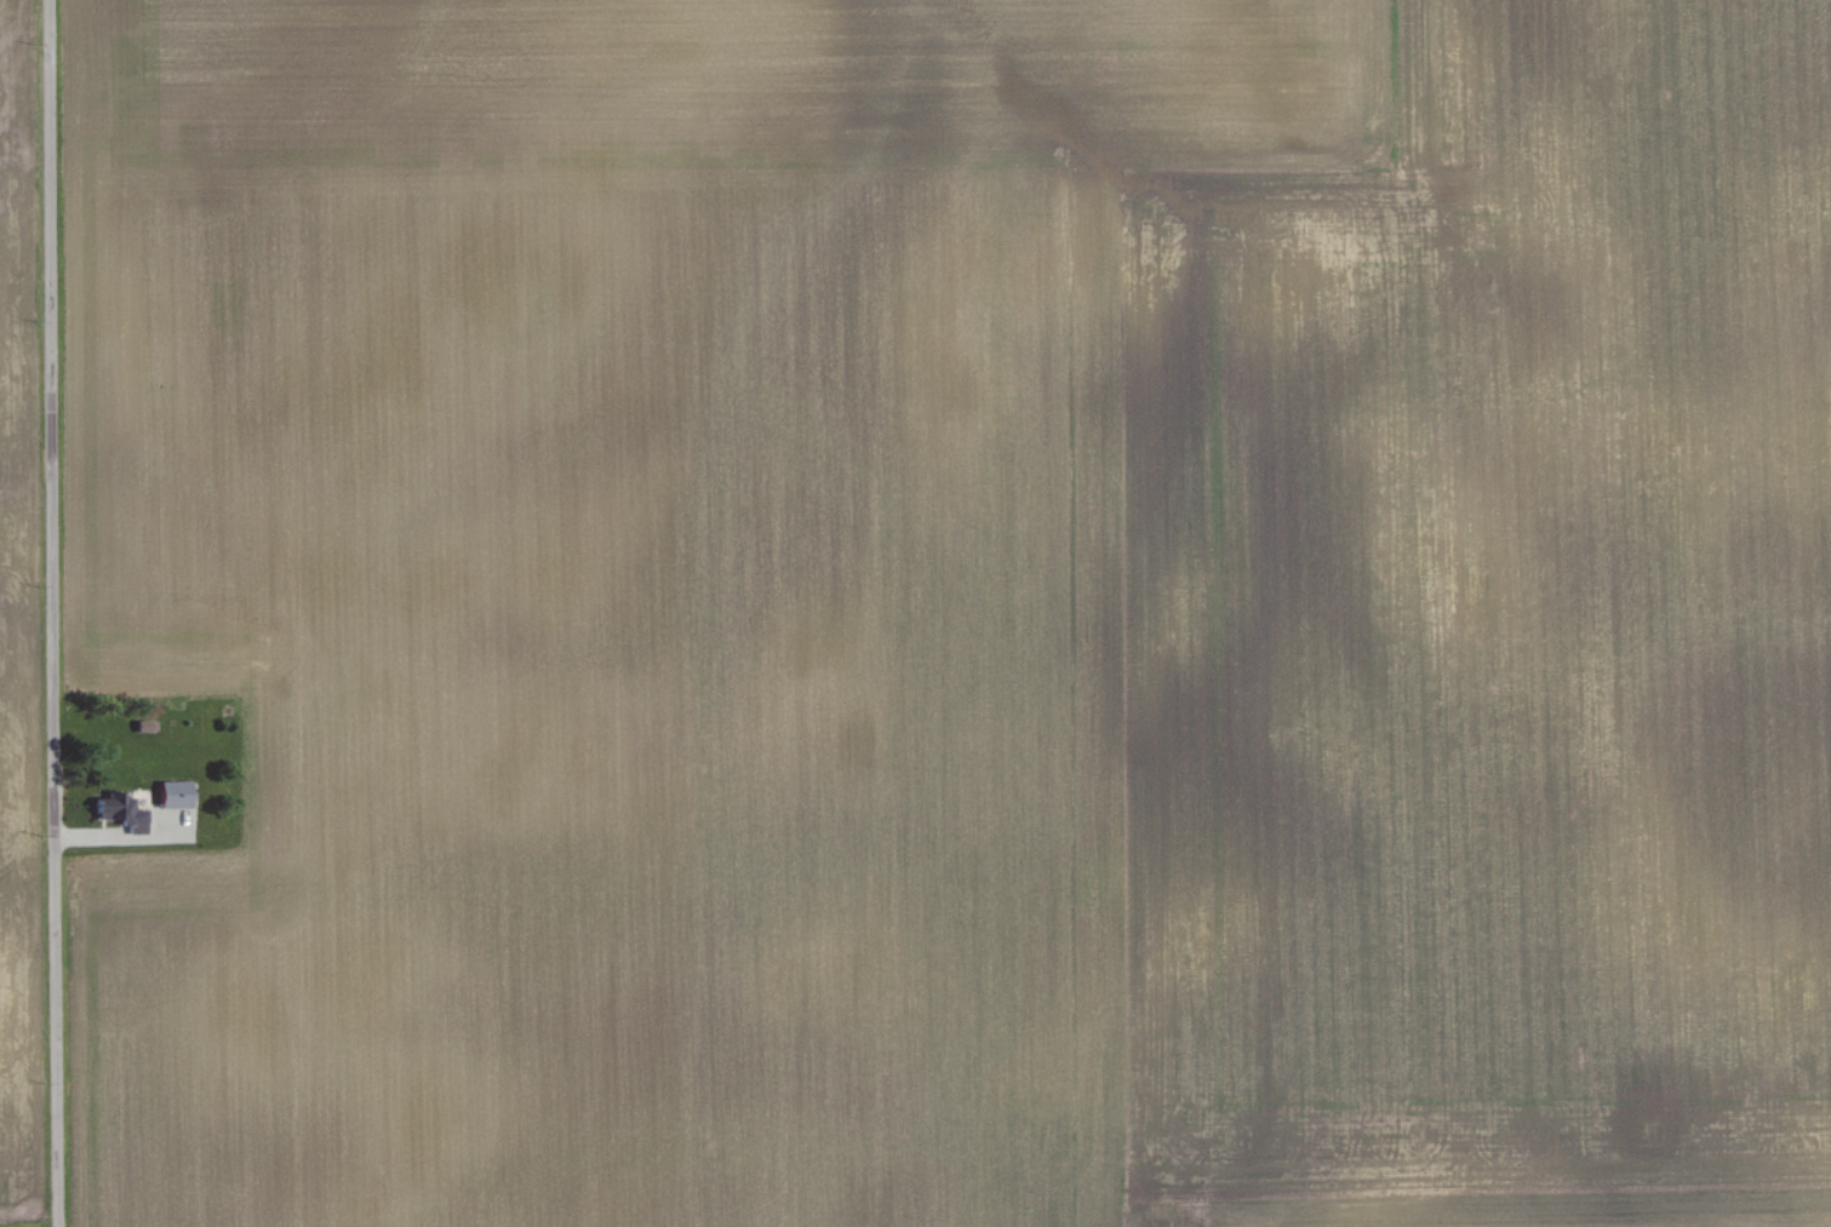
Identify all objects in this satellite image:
road: (52, 613)

